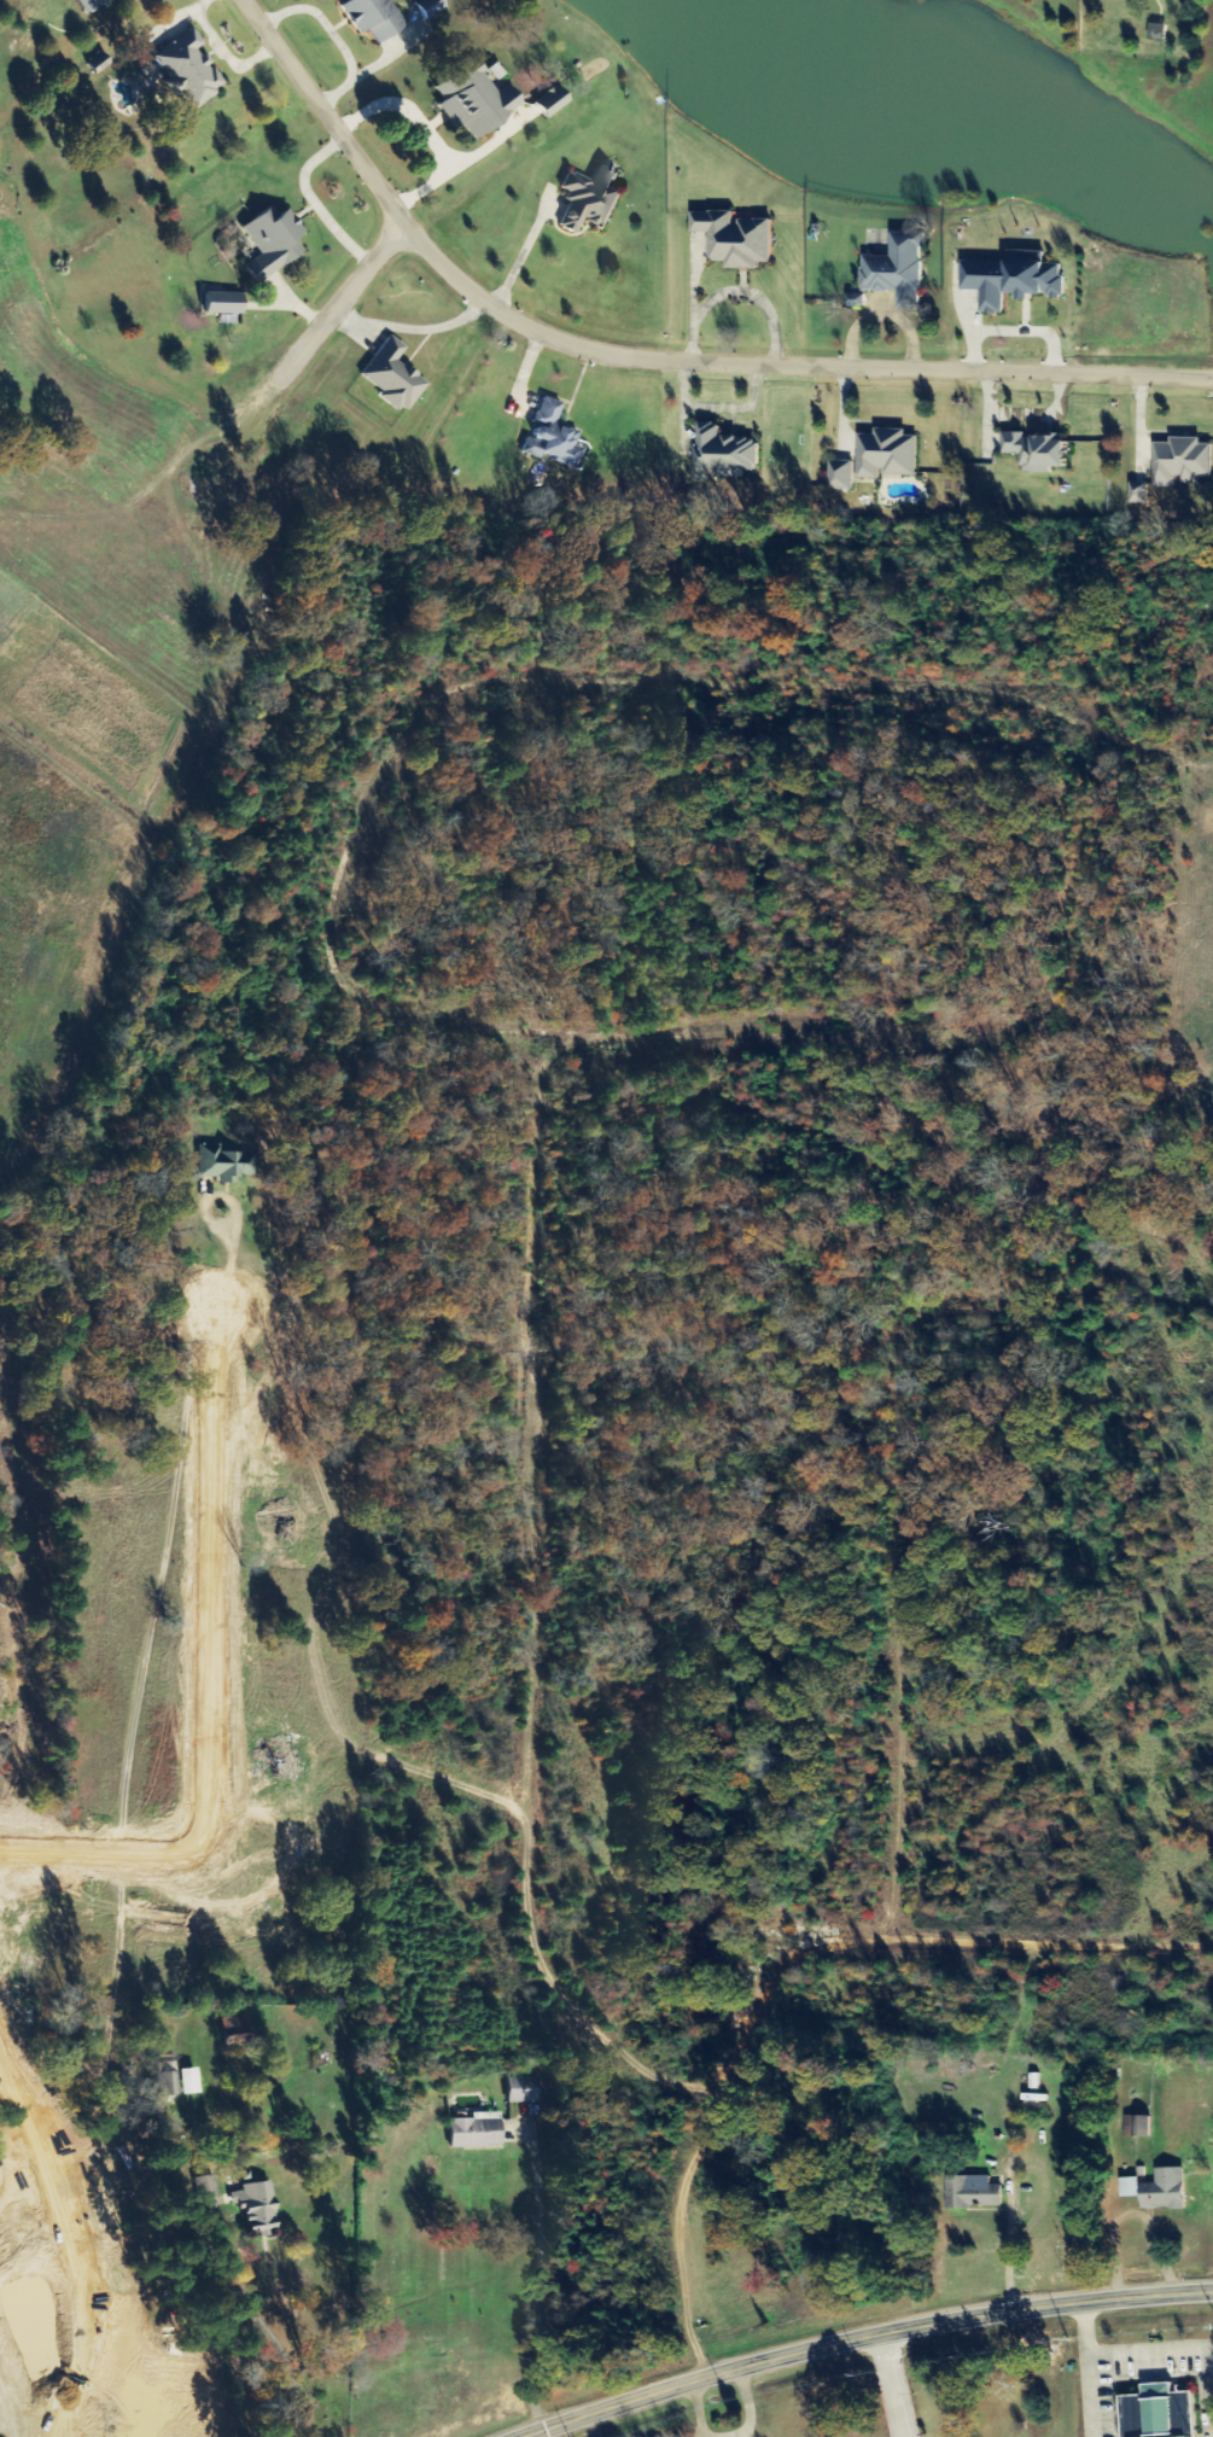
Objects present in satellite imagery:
building: (92, 4)
building: (431, 6)
building: (375, 17)
building: (1160, 33)
building: (191, 69)
building: (477, 99)
building: (554, 100)
building: (591, 199)
building: (739, 239)
building: (274, 241)
building: (902, 270)
building: (1015, 280)
road: (339, 298)
building: (226, 303)
road: (649, 358)
building: (395, 375)
building: (554, 436)
building: (725, 453)
building: (1042, 453)
building: (890, 455)
building: (1183, 462)
building: (844, 476)
building: (1141, 494)
building: (226, 1164)
building: (238, 2033)
building: (168, 2075)
building: (191, 2081)
building: (524, 2089)
building: (1141, 2127)
building: (478, 2130)
building: (1168, 2191)
building: (975, 2193)
building: (258, 2206)
road: (216, 2318)
road: (867, 2339)
road: (29, 2362)
road: (894, 2386)
building: (1161, 2412)

